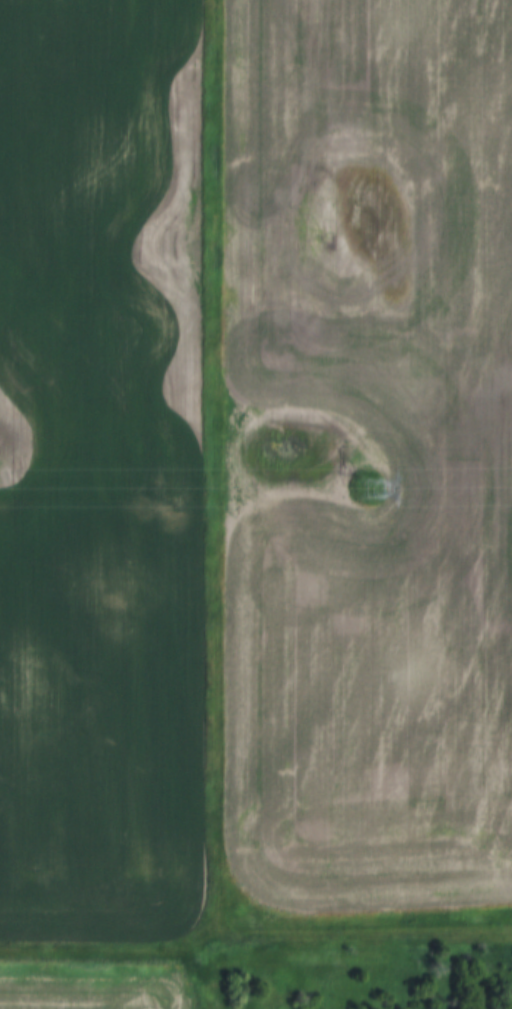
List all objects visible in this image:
power tower: (371, 484)
road: (391, 938)
road: (135, 950)

